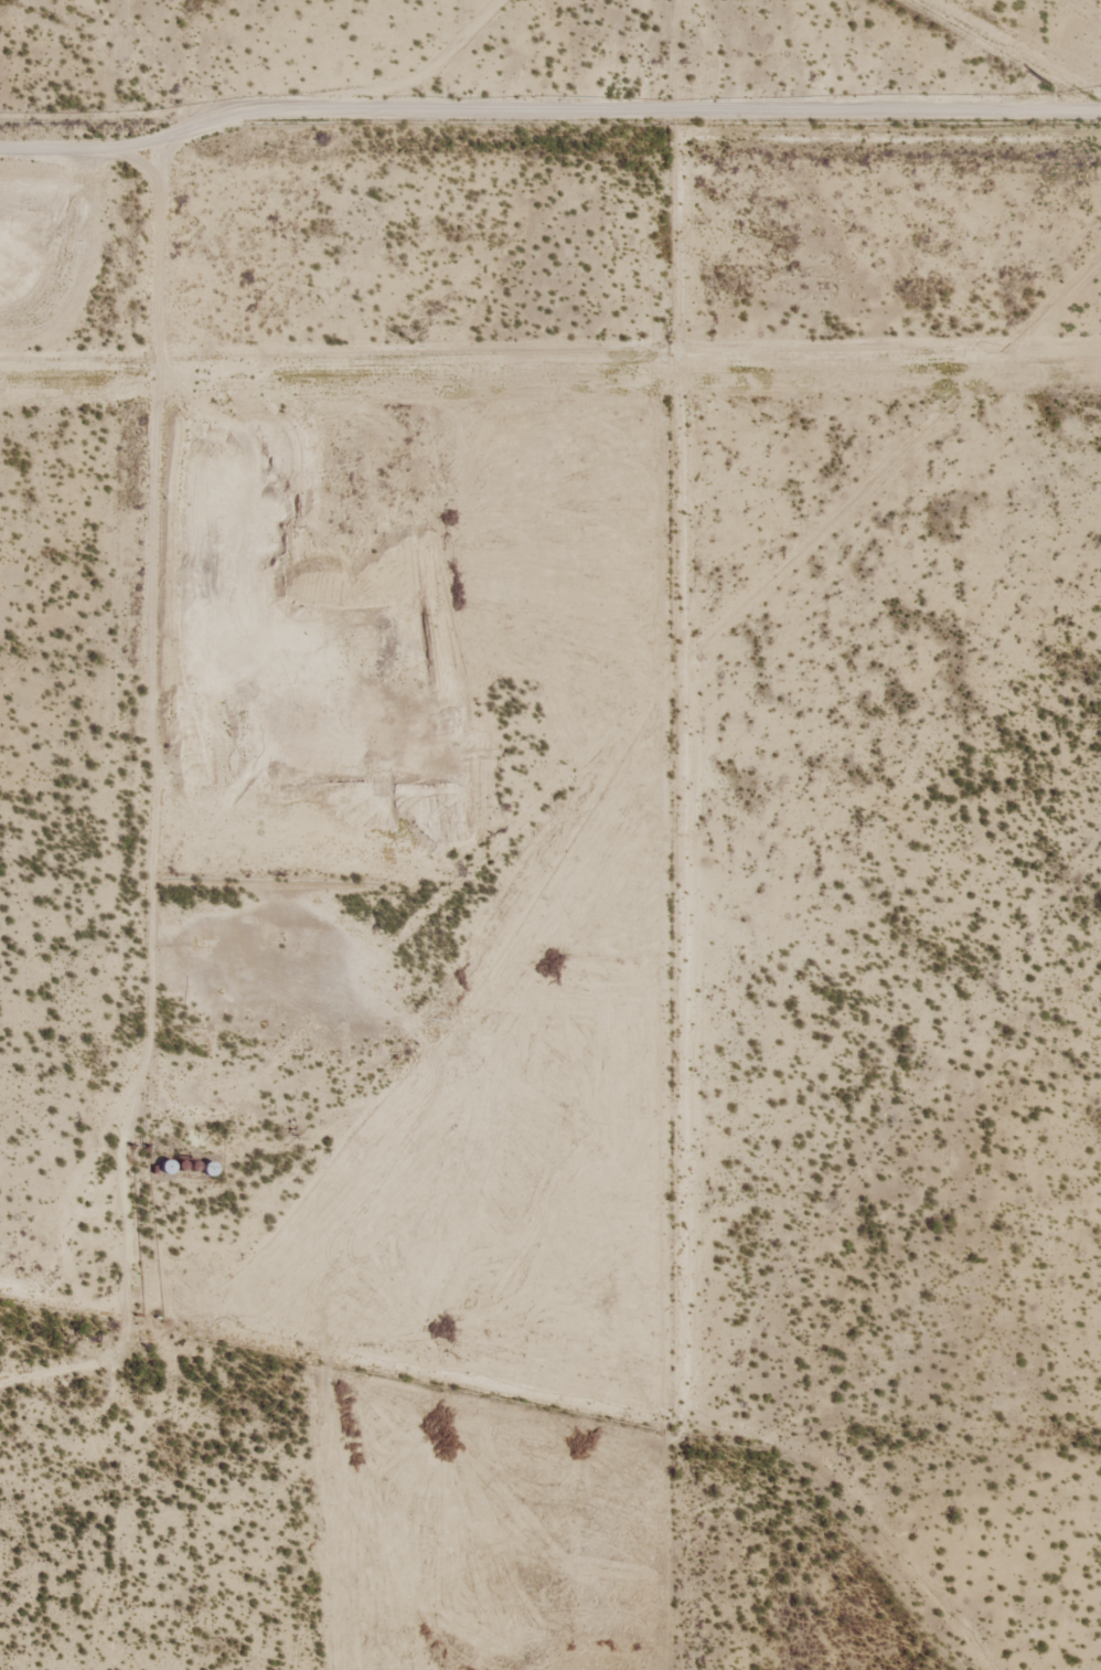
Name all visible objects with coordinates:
road: (549, 124)
road: (146, 613)

